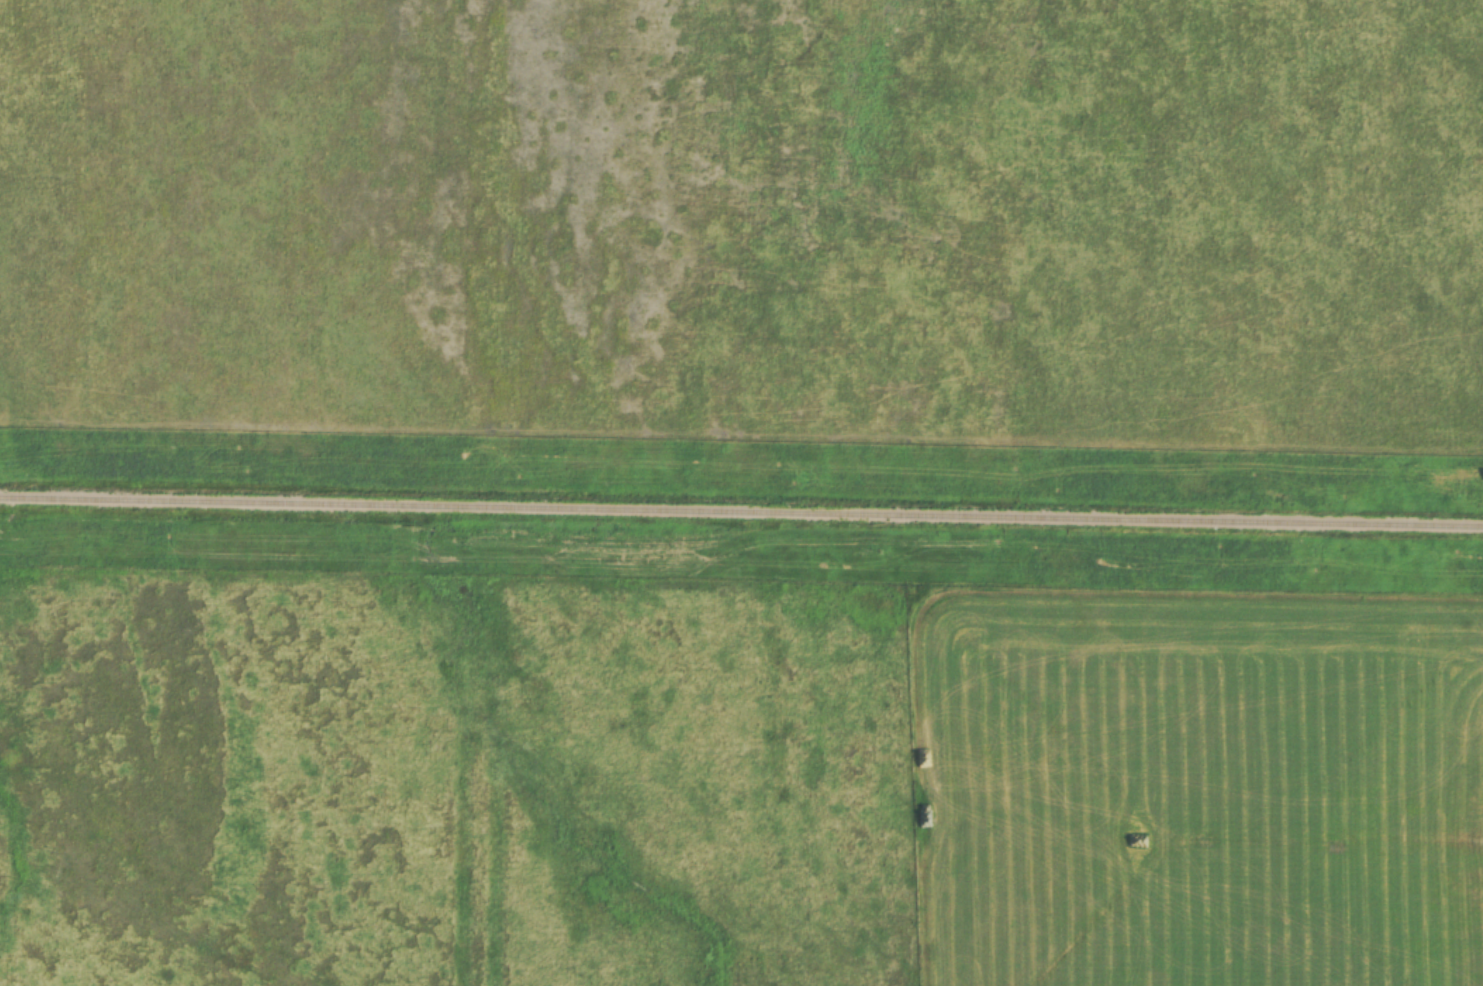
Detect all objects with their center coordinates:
railway: (741, 513)

